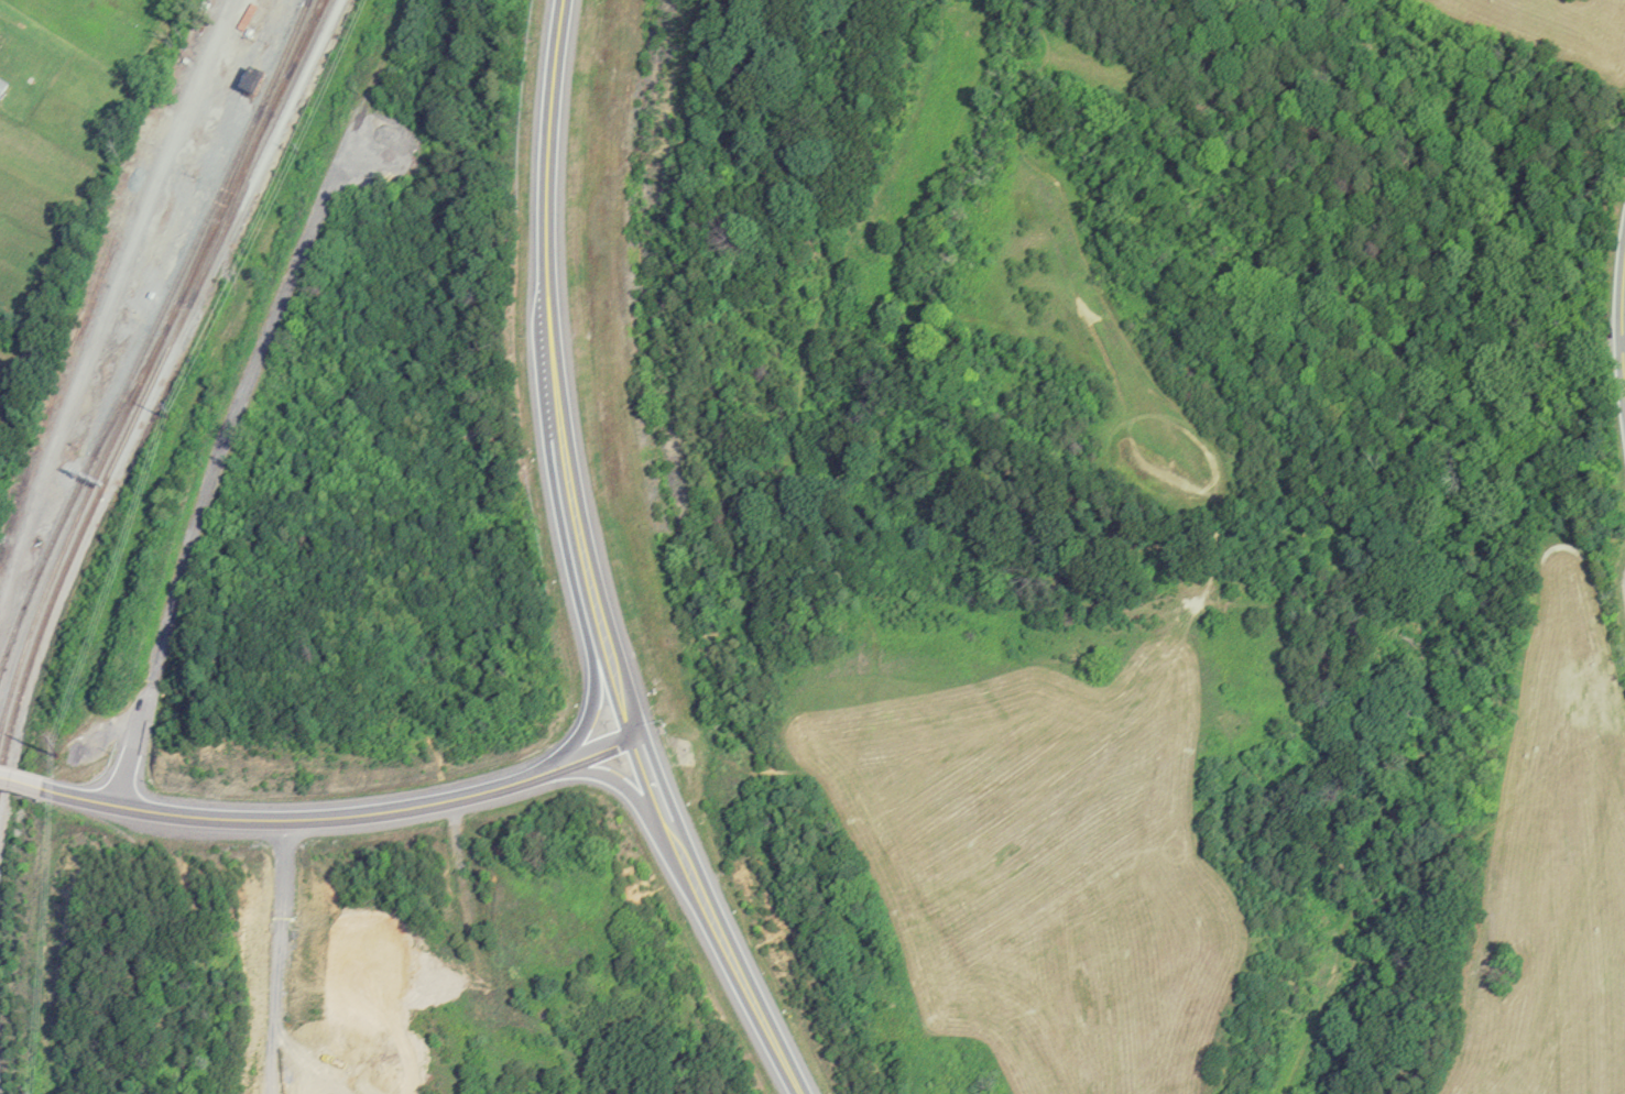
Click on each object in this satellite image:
railway: (303, 37)
railway: (288, 45)
railway: (297, 54)
building: (2, 85)
building: (257, 85)
railway: (262, 152)
railway: (220, 203)
railway: (230, 207)
railway: (182, 294)
road: (1622, 322)
road: (1624, 343)
railway: (130, 381)
railway: (132, 389)
railway: (146, 395)
road: (220, 449)
road: (587, 567)
railway: (41, 603)
railway: (41, 630)
road: (597, 669)
road: (21, 786)
road: (644, 812)
road: (345, 817)

